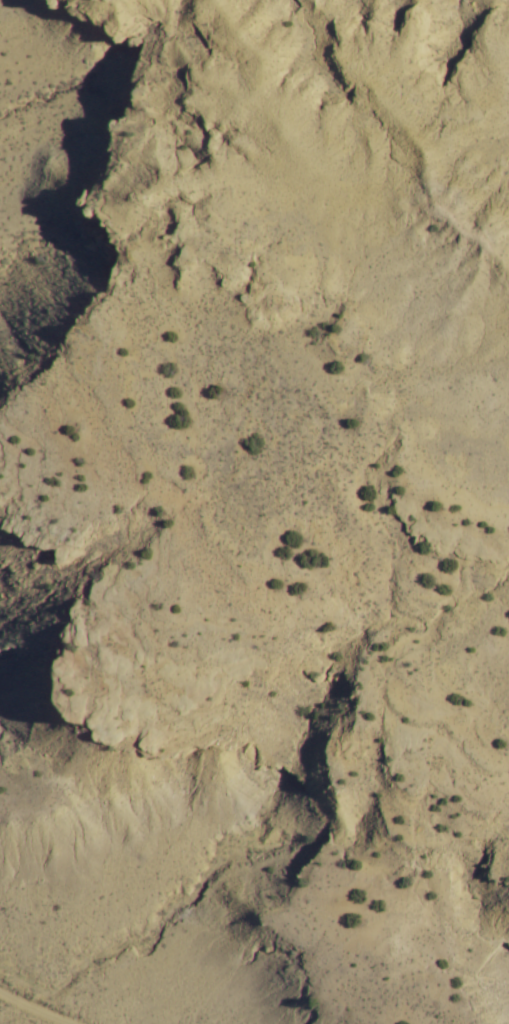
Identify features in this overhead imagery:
road: (28, 1011)

